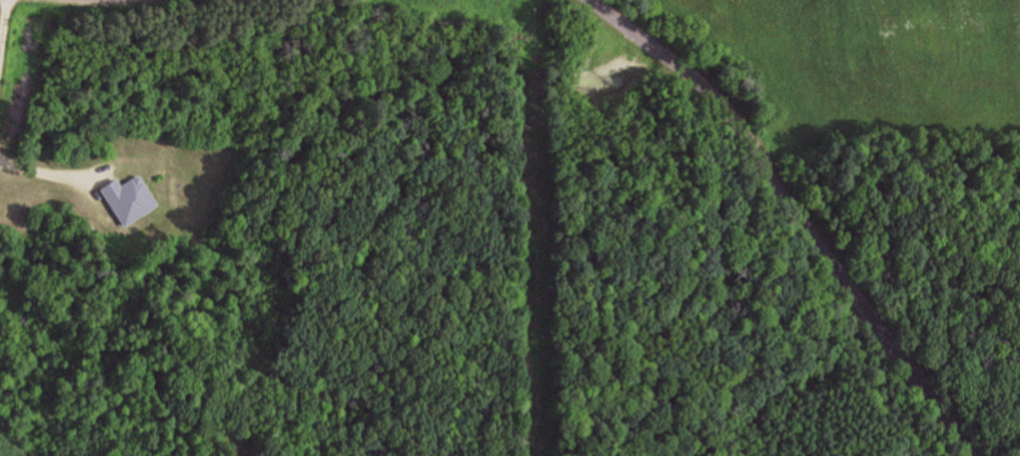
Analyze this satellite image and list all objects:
road: (2, 15)
crop: (871, 67)
road: (50, 172)
building: (129, 199)
road: (800, 211)

